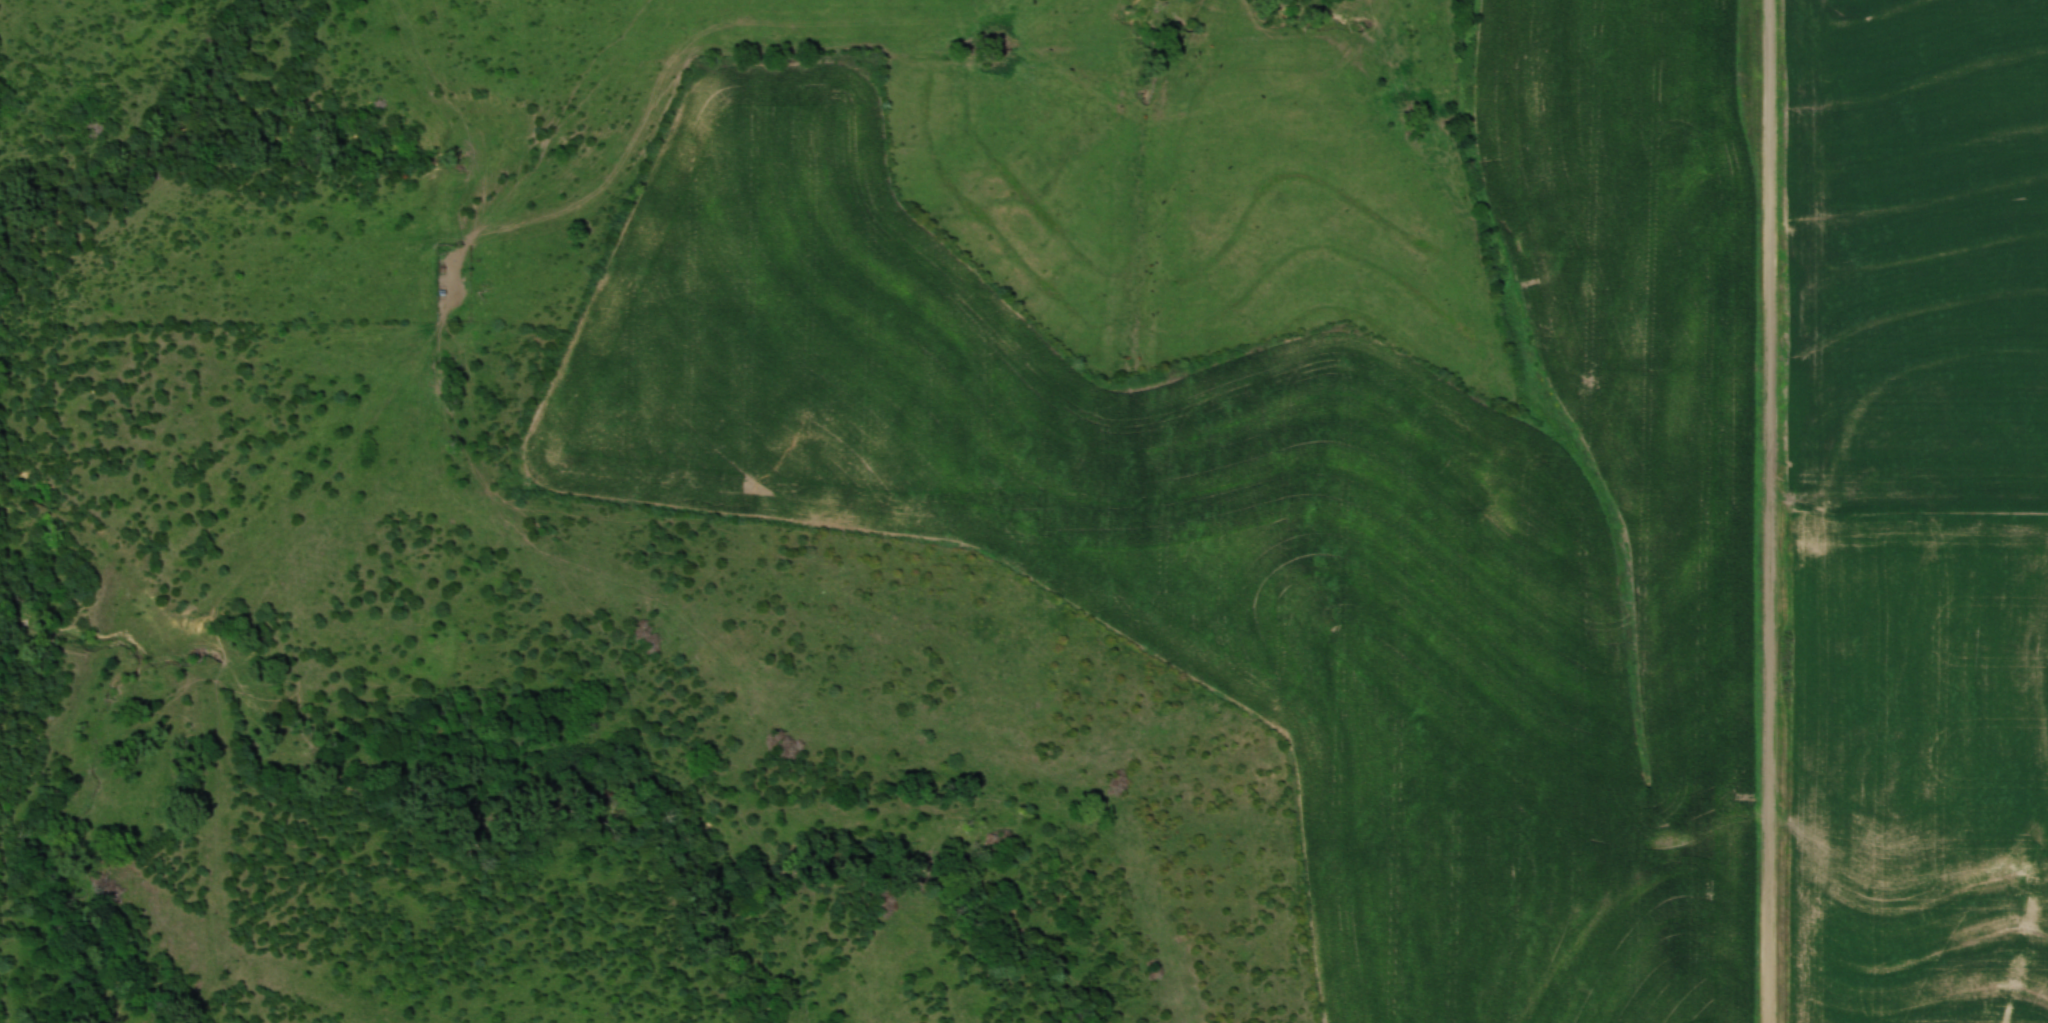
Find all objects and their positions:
road: (1769, 511)

